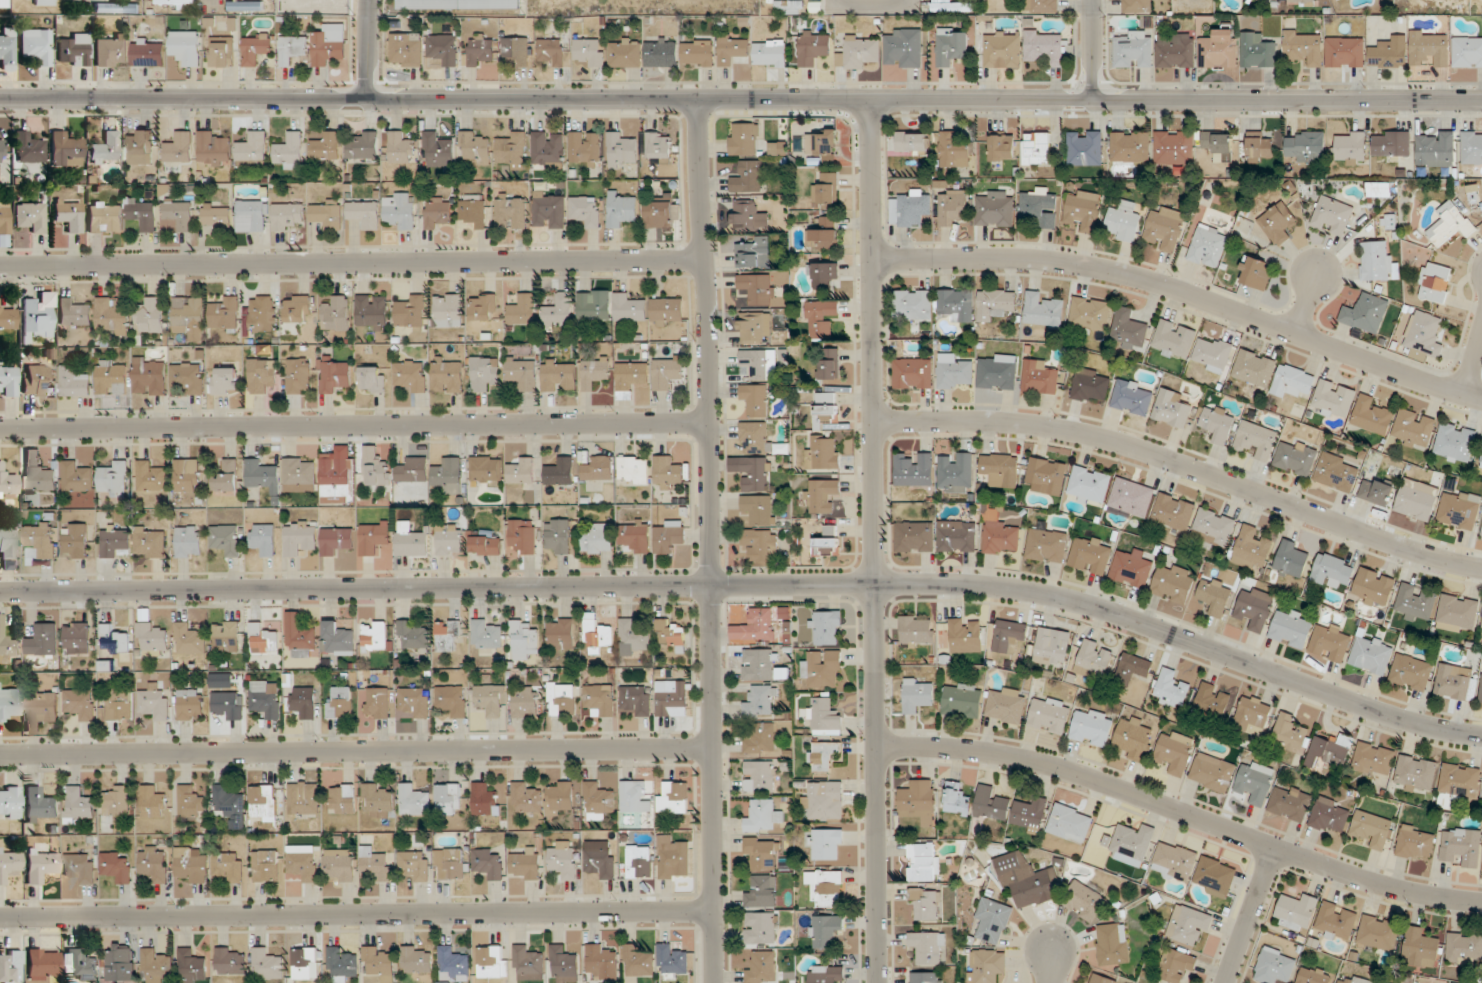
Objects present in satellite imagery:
building: (1263, 0)
road: (834, 1)
building: (1302, 1)
building: (3, 2)
building: (45, 2)
road: (911, 2)
road: (208, 3)
road: (872, 3)
building: (175, 4)
building: (458, 4)
road: (76, 5)
building: (952, 5)
building: (245, 6)
building: (791, 6)
building: (1042, 6)
building: (1137, 6)
building: (116, 8)
building: (329, 43)
building: (36, 45)
building: (951, 45)
building: (1045, 45)
building: (1304, 46)
building: (185, 47)
building: (292, 47)
building: (814, 47)
building: (903, 47)
building: (75, 48)
building: (256, 48)
building: (443, 48)
building: (732, 48)
building: (1429, 48)
building: (111, 49)
building: (406, 49)
building: (1002, 49)
building: (1134, 49)
building: (1219, 49)
building: (8, 50)
road: (366, 50)
building: (479, 50)
building: (517, 50)
building: (1257, 50)
building: (147, 51)
building: (221, 51)
building: (552, 51)
building: (590, 51)
road: (1094, 51)
building: (1175, 51)
building: (1345, 51)
building: (1467, 51)
building: (625, 52)
building: (661, 52)
building: (770, 52)
building: (858, 52)
building: (1389, 52)
building: (696, 53)
road: (740, 102)
building: (744, 139)
building: (912, 141)
building: (1218, 141)
building: (821, 142)
building: (1391, 142)
building: (326, 145)
building: (363, 145)
building: (659, 145)
building: (1306, 145)
building: (64, 146)
building: (475, 146)
building: (1130, 146)
building: (1350, 146)
building: (28, 147)
building: (178, 147)
building: (778, 147)
building: (1001, 147)
building: (1085, 147)
building: (1174, 147)
building: (1472, 147)
building: (105, 148)
building: (141, 148)
building: (213, 148)
building: (252, 148)
building: (400, 148)
building: (585, 148)
building: (1036, 148)
building: (1258, 148)
building: (1435, 148)
building: (290, 149)
building: (437, 149)
building: (549, 149)
building: (621, 149)
building: (513, 150)
building: (953, 150)
building: (1, 151)
building: (747, 177)
building: (828, 188)
building: (952, 206)
building: (1039, 206)
building: (621, 208)
building: (911, 208)
building: (995, 208)
building: (400, 209)
building: (1083, 209)
building: (549, 210)
building: (586, 210)
building: (511, 211)
building: (437, 212)
building: (473, 212)
building: (659, 212)
building: (142, 213)
building: (179, 213)
building: (327, 213)
building: (364, 213)
building: (69, 214)
building: (5, 215)
building: (287, 215)
building: (749, 215)
building: (1332, 215)
building: (31, 216)
building: (105, 216)
building: (216, 216)
building: (252, 216)
building: (1124, 221)
building: (1278, 222)
building: (1451, 223)
building: (1166, 228)
building: (821, 238)
building: (1208, 246)
building: (754, 253)
building: (1376, 260)
road: (350, 262)
building: (1255, 272)
building: (822, 274)
building: (1434, 282)
building: (756, 288)
road: (1184, 292)
road: (1306, 301)
building: (594, 304)
building: (913, 304)
building: (956, 304)
building: (995, 304)
building: (483, 307)
building: (629, 307)
building: (297, 308)
building: (559, 308)
building: (523, 309)
building: (447, 310)
building: (668, 310)
building: (1043, 310)
building: (372, 311)
building: (74, 312)
building: (224, 312)
building: (262, 312)
building: (411, 312)
building: (336, 313)
building: (1366, 313)
building: (1090, 314)
building: (39, 315)
building: (113, 315)
building: (149, 315)
building: (189, 316)
building: (820, 317)
building: (8, 319)
building: (754, 326)
building: (1129, 330)
building: (1423, 335)
building: (1174, 339)
building: (1212, 353)
road: (1472, 361)
building: (759, 363)
building: (829, 363)
building: (1254, 368)
building: (595, 371)
building: (997, 371)
building: (523, 372)
building: (667, 372)
building: (954, 372)
building: (484, 373)
building: (913, 373)
building: (261, 374)
building: (150, 375)
building: (412, 375)
building: (447, 375)
building: (559, 375)
building: (298, 376)
building: (334, 376)
building: (111, 377)
building: (188, 377)
building: (630, 377)
building: (1039, 377)
building: (373, 379)
building: (8, 380)
building: (35, 380)
building: (224, 380)
building: (1292, 380)
building: (74, 381)
building: (1090, 385)
building: (1133, 396)
building: (755, 399)
building: (1333, 399)
building: (1171, 408)
building: (826, 410)
building: (1371, 415)
building: (1216, 421)
road: (353, 426)
building: (1414, 429)
building: (758, 439)
building: (1256, 440)
building: (1456, 443)
building: (823, 451)
building: (1296, 457)
building: (1481, 463)
road: (1184, 465)
building: (486, 468)
building: (599, 468)
building: (413, 469)
building: (633, 469)
building: (913, 469)
building: (1000, 469)
building: (560, 470)
building: (376, 471)
building: (521, 471)
building: (447, 472)
building: (666, 472)
building: (955, 472)
building: (1337, 472)
building: (299, 474)
building: (756, 474)
building: (187, 475)
building: (262, 475)
building: (337, 475)
building: (1047, 475)
building: (77, 476)
building: (150, 476)
building: (227, 476)
building: (113, 477)
building: (39, 478)
building: (8, 481)
building: (1089, 485)
building: (1376, 491)
building: (821, 494)
building: (1131, 497)
building: (1417, 499)
building: (759, 509)
building: (1459, 509)
building: (1173, 512)
building: (1213, 527)
building: (1481, 533)
building: (1000, 534)
building: (523, 535)
building: (635, 535)
building: (374, 536)
building: (558, 536)
building: (669, 536)
building: (915, 536)
building: (957, 536)
building: (300, 537)
building: (263, 538)
building: (40, 539)
building: (226, 539)
building: (336, 539)
building: (410, 539)
building: (598, 539)
building: (75, 540)
building: (449, 540)
building: (115, 541)
building: (188, 541)
building: (7, 542)
building: (149, 542)
road: (709, 542)
road: (874, 542)
building: (485, 543)
building: (761, 545)
building: (827, 545)
building: (1047, 545)
building: (1251, 549)
building: (1090, 554)
building: (1291, 558)
building: (1131, 568)
building: (1332, 570)
building: (1174, 583)
road: (753, 586)
building: (1373, 587)
building: (1214, 595)
building: (1415, 603)
building: (1255, 607)
building: (1457, 613)
building: (754, 626)
building: (826, 627)
building: (1291, 628)
building: (916, 629)
building: (1481, 630)
building: (561, 633)
building: (671, 633)
building: (485, 634)
building: (596, 634)
building: (374, 635)
building: (412, 635)
building: (965, 635)
building: (1009, 635)
building: (226, 636)
building: (448, 636)
building: (76, 637)
building: (151, 637)
building: (336, 637)
building: (189, 638)
building: (301, 638)
building: (634, 638)
building: (42, 639)
building: (263, 639)
building: (523, 639)
building: (114, 640)
building: (7, 641)
building: (1330, 641)
building: (1049, 647)
building: (1371, 654)
building: (1093, 659)
building: (757, 664)
building: (823, 669)
building: (1133, 669)
building: (1411, 672)
building: (1456, 683)
building: (1170, 688)
building: (1481, 692)
building: (917, 694)
building: (265, 698)
building: (561, 698)
building: (672, 698)
building: (490, 699)
building: (600, 699)
building: (636, 699)
building: (451, 700)
building: (962, 700)
building: (303, 701)
building: (415, 701)
building: (524, 701)
building: (760, 701)
building: (1212, 701)
building: (154, 702)
building: (340, 702)
building: (377, 702)
building: (79, 703)
building: (9, 704)
building: (118, 704)
building: (190, 704)
building: (227, 705)
building: (1005, 705)
building: (40, 709)
building: (1049, 714)
building: (1252, 714)
building: (1091, 726)
building: (1290, 733)
building: (760, 738)
building: (1133, 739)
building: (1330, 749)
building: (1175, 750)
road: (356, 751)
building: (823, 755)
building: (1374, 759)
building: (1212, 772)
building: (1415, 773)
building: (758, 776)
building: (1255, 780)
building: (1460, 780)
building: (560, 795)
building: (303, 797)
building: (525, 797)
building: (633, 797)
building: (674, 797)
building: (342, 798)
building: (447, 798)
building: (957, 798)
building: (483, 799)
building: (117, 800)
building: (378, 800)
building: (413, 800)
building: (597, 800)
building: (824, 800)
building: (191, 801)
building: (918, 801)
building: (10, 802)
building: (152, 802)
building: (262, 802)
building: (78, 803)
building: (1290, 803)
building: (991, 804)
building: (40, 806)
building: (230, 807)
road: (1181, 813)
building: (1029, 814)
building: (762, 816)
building: (1330, 816)
building: (1070, 823)
building: (1374, 829)
building: (1416, 842)
building: (826, 844)
building: (1129, 845)
building: (1460, 846)
building: (761, 852)
building: (673, 858)
building: (563, 859)
building: (600, 859)
building: (302, 861)
building: (639, 861)
building: (1174, 861)
building: (376, 862)
building: (924, 862)
building: (340, 863)
building: (449, 863)
building: (525, 863)
building: (10, 864)
building: (153, 864)
building: (190, 864)
building: (415, 864)
building: (488, 864)
building: (41, 865)
building: (265, 865)
building: (80, 867)
building: (115, 867)
building: (1215, 876)
building: (1024, 879)
building: (826, 887)
building: (762, 891)
building: (1086, 900)
building: (925, 903)
building: (1296, 911)
road: (356, 914)
road: (1250, 916)
building: (993, 921)
building: (1336, 922)
building: (1189, 924)
building: (759, 927)
building: (826, 930)
building: (1379, 933)
building: (1113, 943)
building: (926, 946)
building: (1464, 947)
building: (1420, 948)
building: (416, 960)
building: (671, 960)
building: (229, 961)
building: (376, 961)
building: (491, 961)
building: (638, 961)
building: (601, 962)
building: (44, 963)
building: (120, 963)
building: (304, 963)
building: (341, 963)
building: (528, 963)
building: (266, 964)
building: (453, 964)
building: (563, 964)
building: (1175, 964)
building: (79, 965)
building: (191, 965)
building: (986, 965)
building: (1275, 965)
building: (11, 966)
building: (156, 966)
building: (761, 968)
road: (1051, 968)
building: (826, 974)
building: (1313, 975)
building: (926, 977)
building: (1099, 978)
building: (1359, 980)
building: (1341, 982)
building: (1381, 982)

